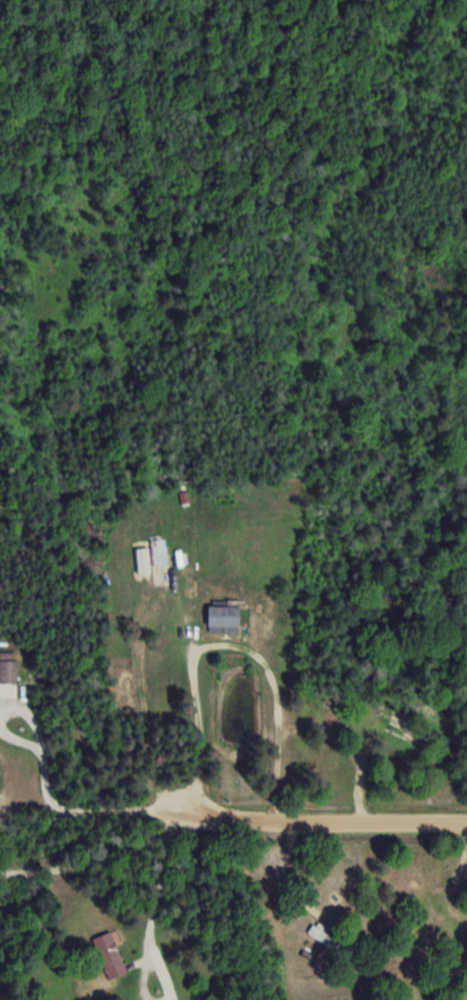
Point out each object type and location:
building: (158, 551)
building: (221, 617)
building: (7, 666)
building: (402, 726)
road: (337, 824)
building: (326, 937)
building: (109, 954)

